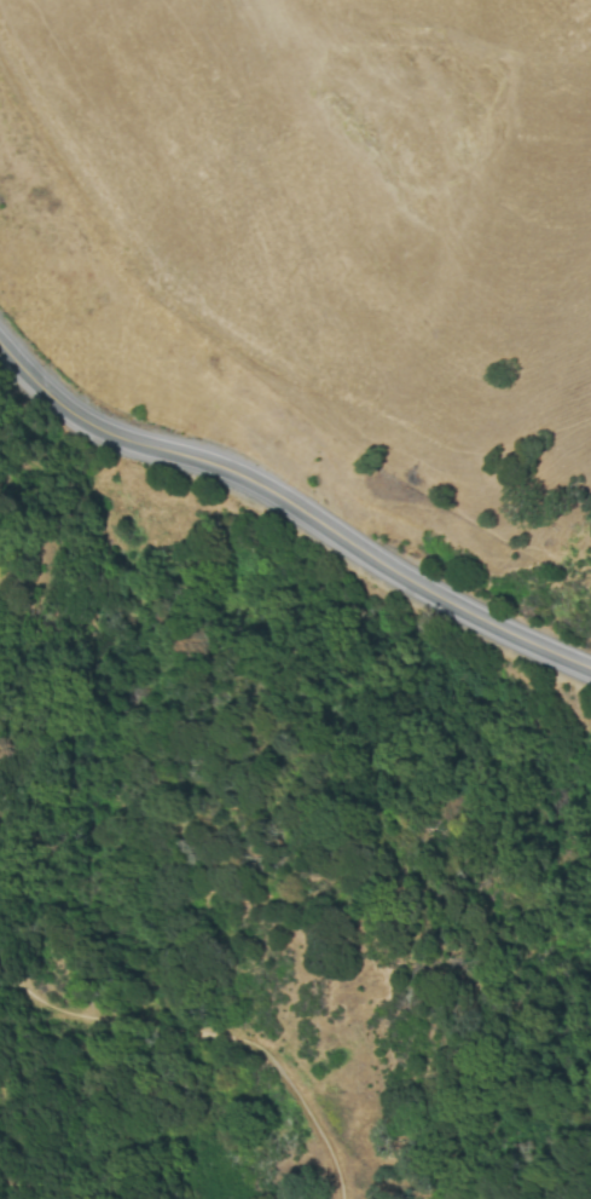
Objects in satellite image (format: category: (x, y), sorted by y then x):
road: (292, 505)
road: (209, 1043)
park: (344, 1057)
road: (10, 1191)

